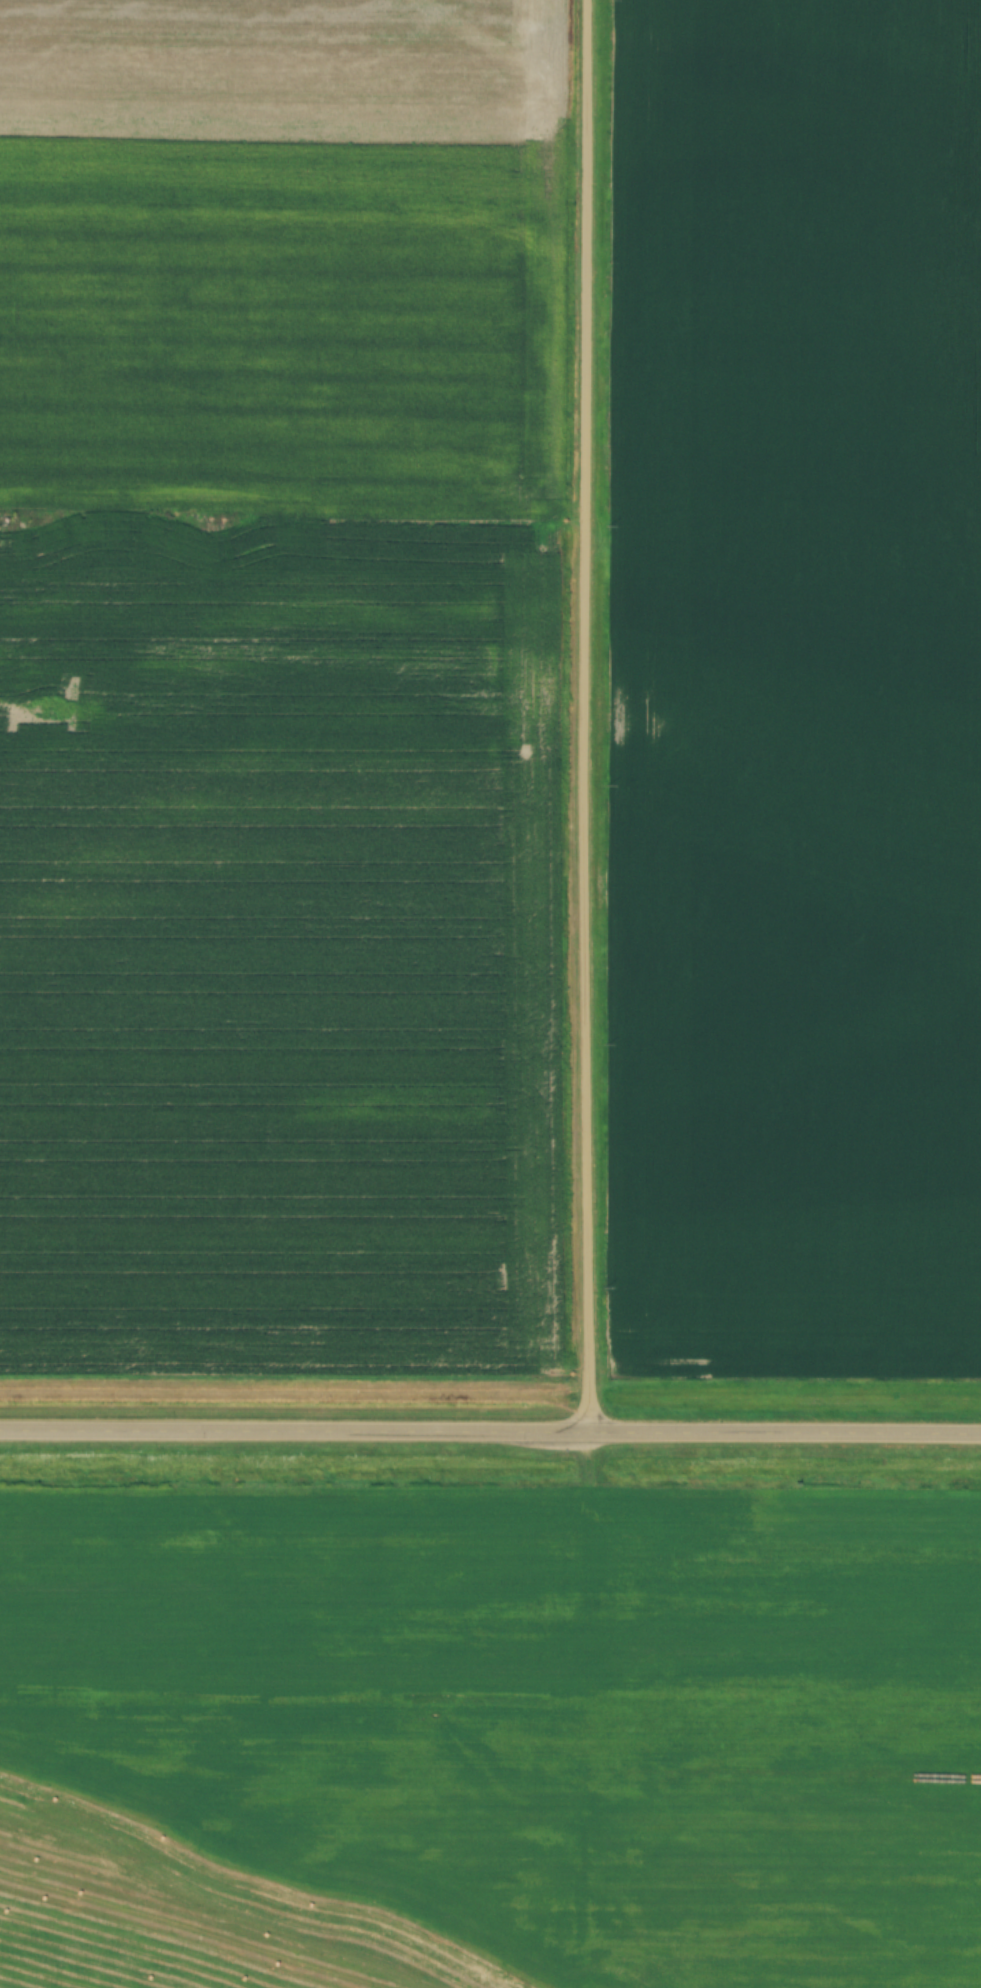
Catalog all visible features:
road: (585, 719)
road: (490, 1438)

